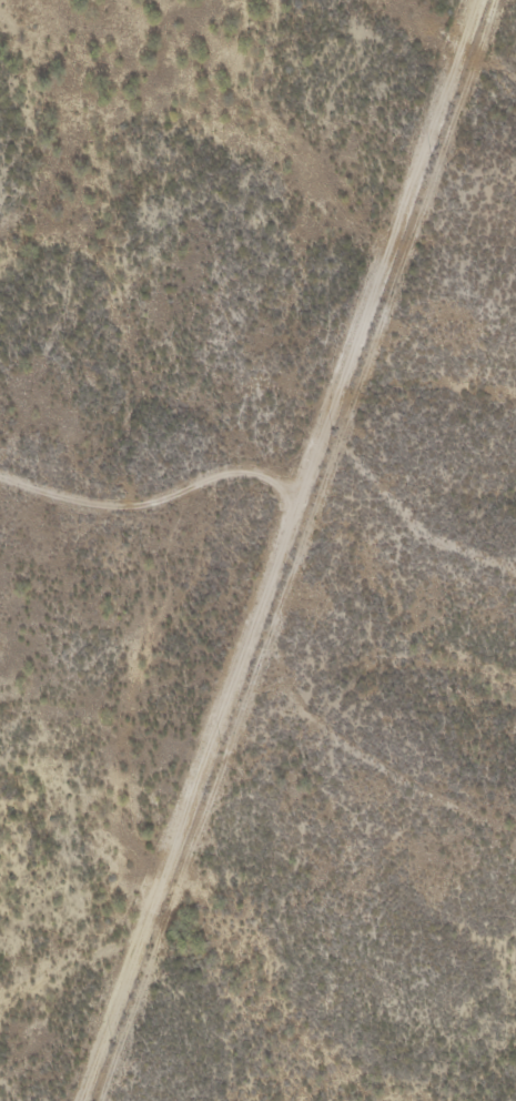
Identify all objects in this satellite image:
road: (291, 550)

